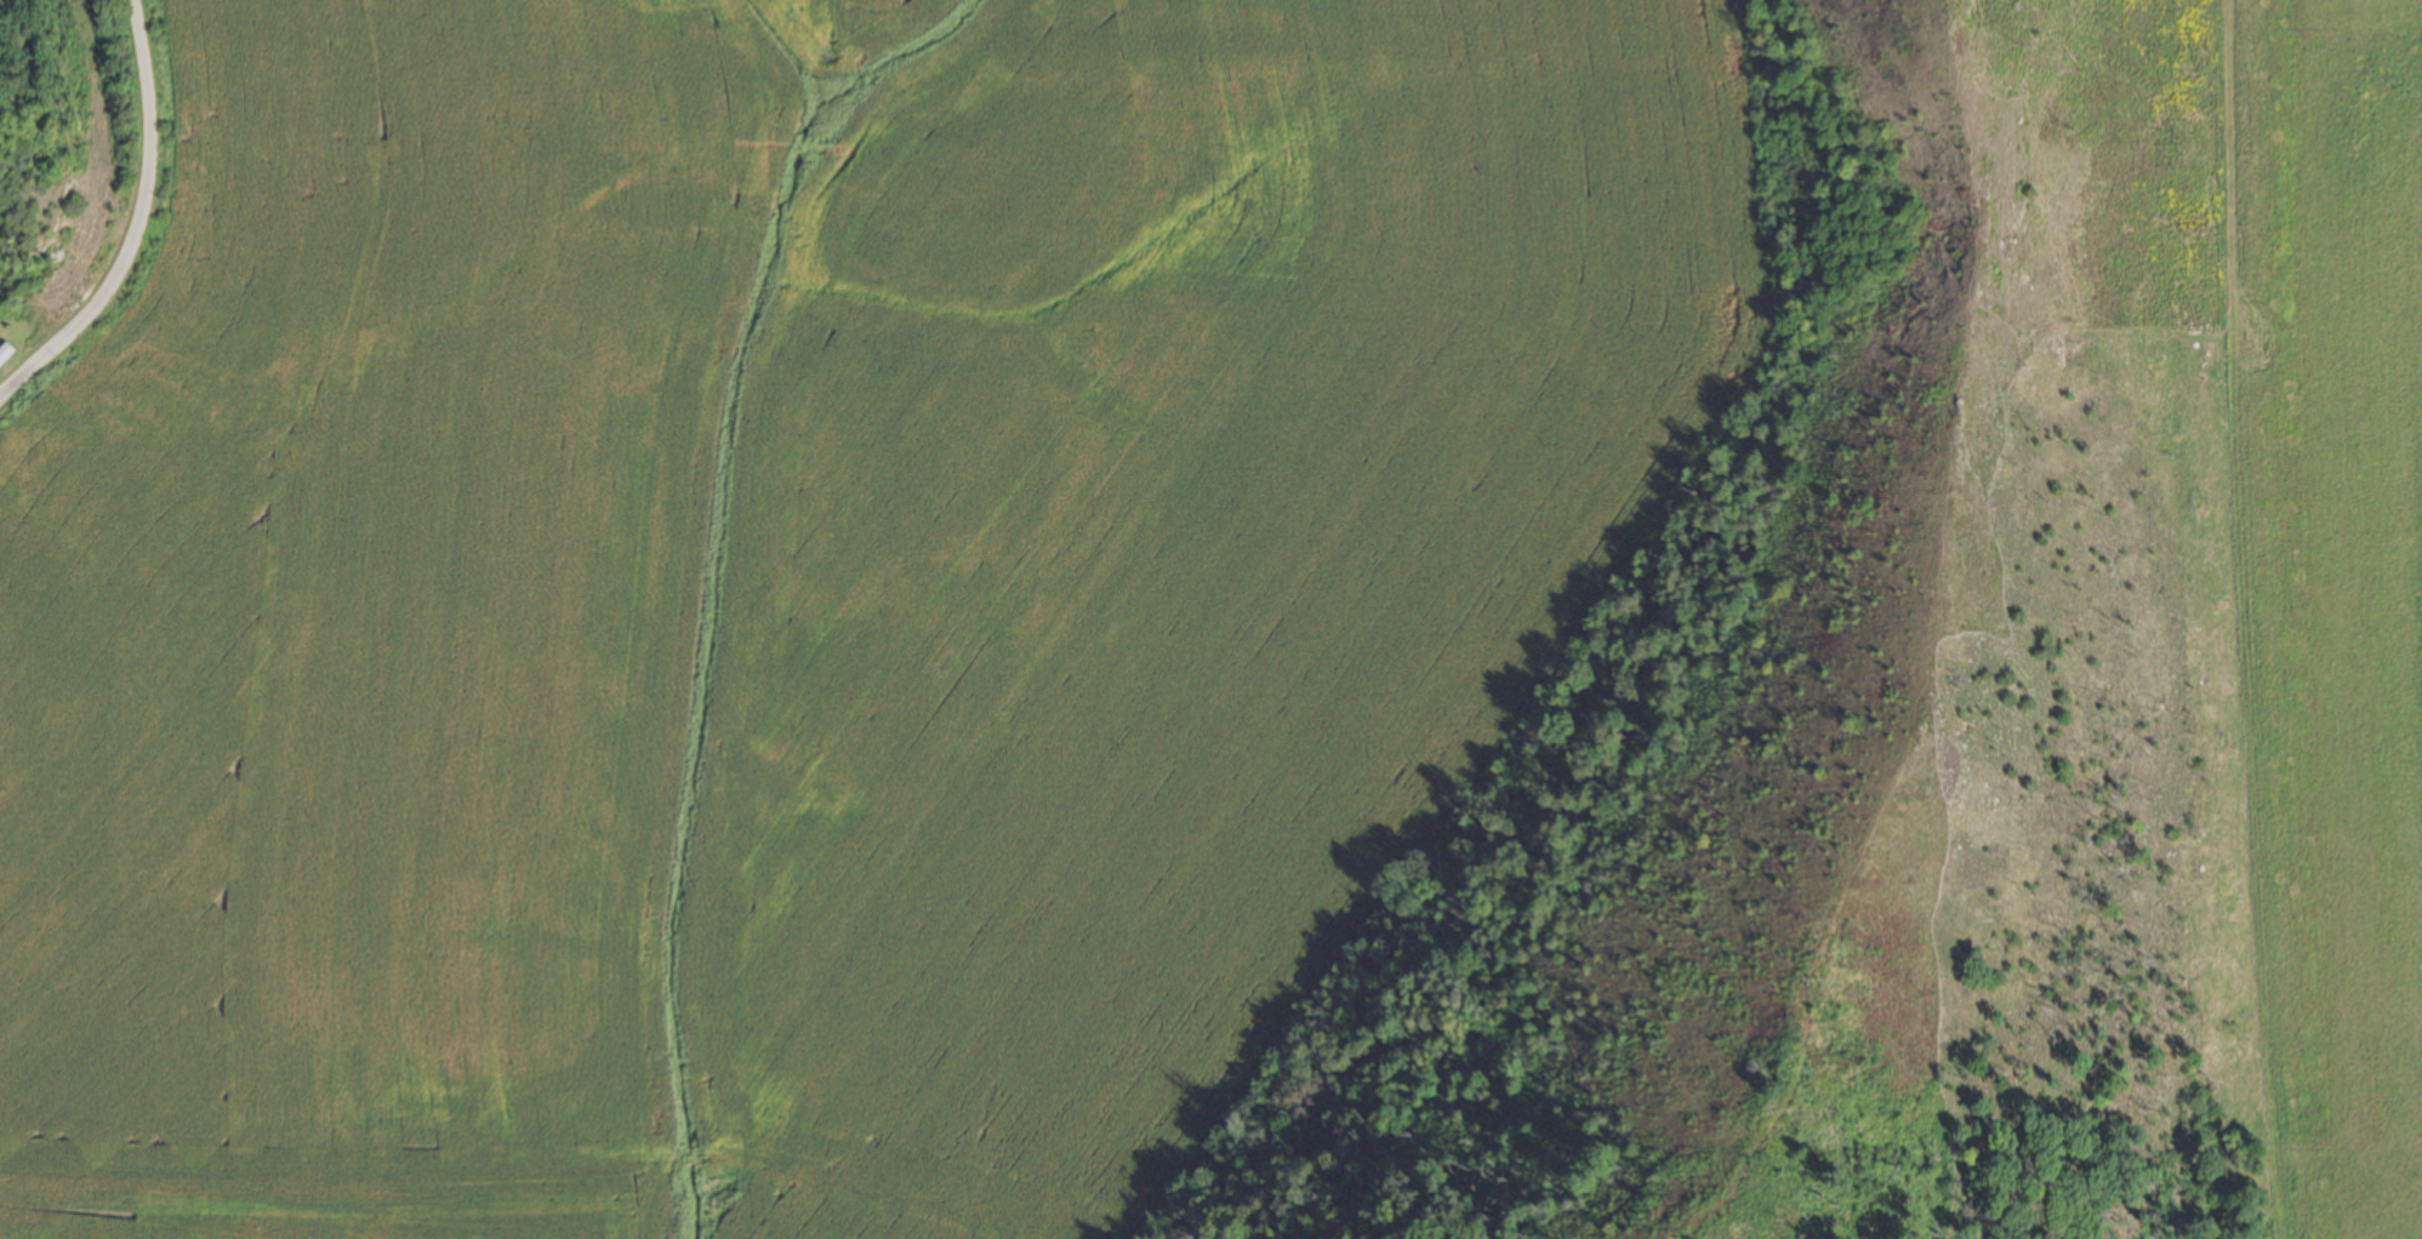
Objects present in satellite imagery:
road: (137, 224)

